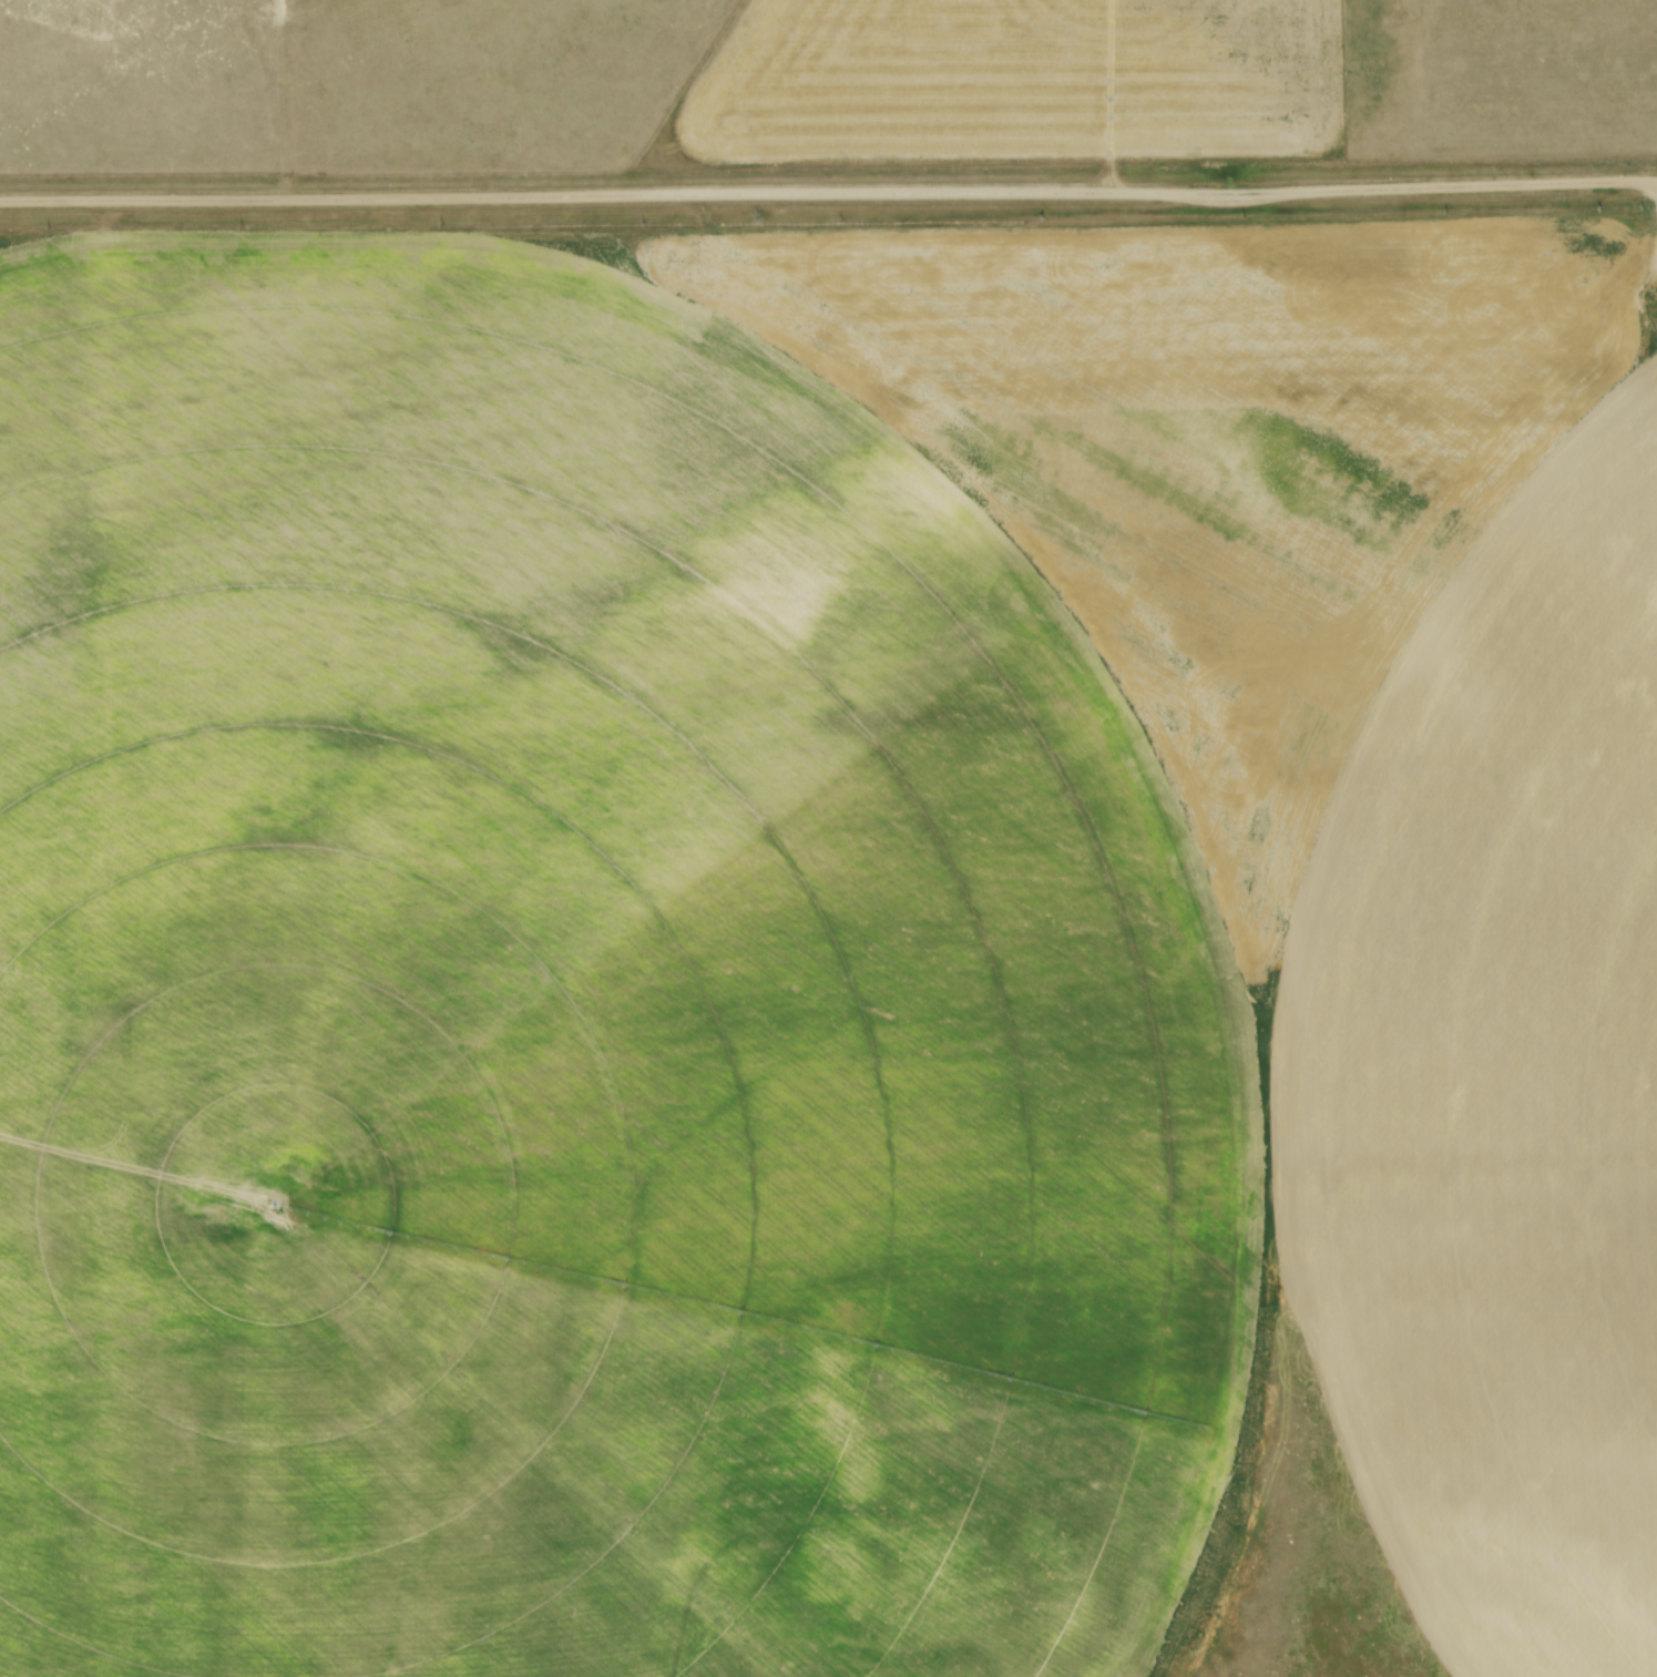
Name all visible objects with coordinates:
crop: (1019, 83)
road: (828, 194)
crop: (818, 940)

